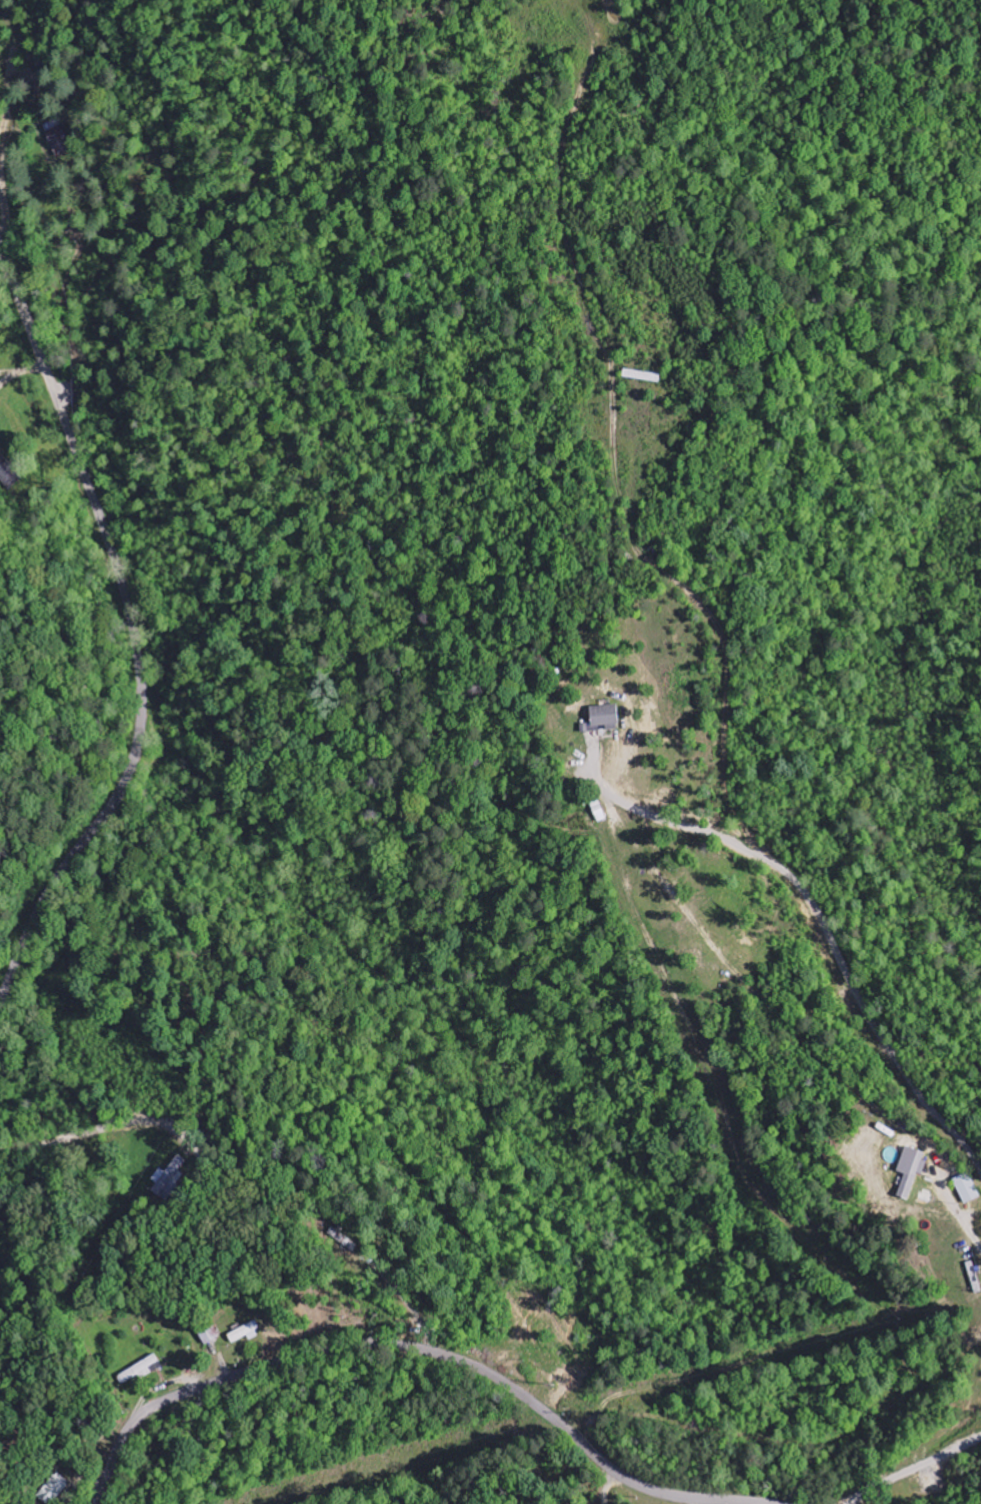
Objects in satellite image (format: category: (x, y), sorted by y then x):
building: (57, 139)
building: (8, 474)
road: (134, 630)
building: (603, 720)
building: (911, 1171)
building: (169, 1180)
building: (969, 1189)
building: (246, 1332)
building: (211, 1333)
road: (415, 1347)
building: (140, 1370)
road: (935, 1480)
building: (55, 1489)

